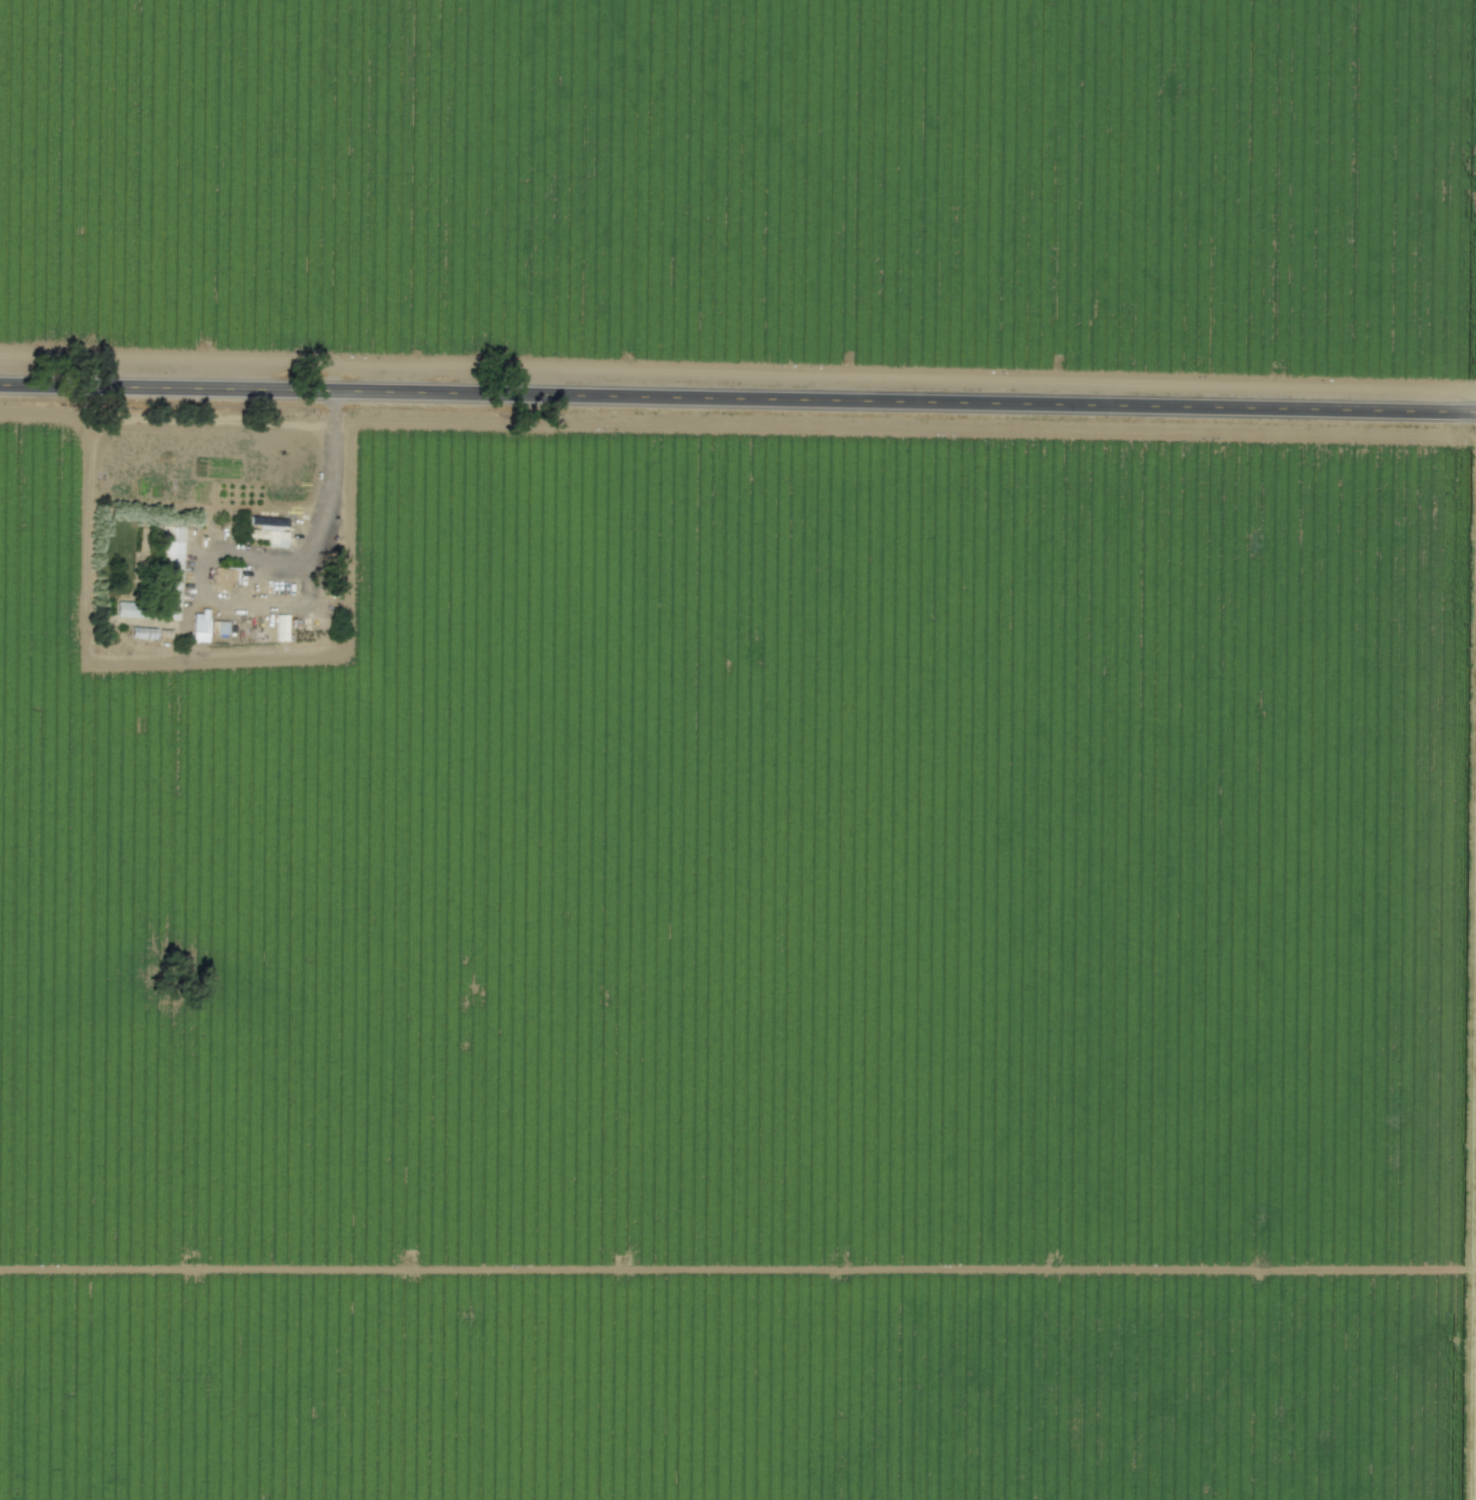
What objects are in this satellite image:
road: (738, 394)
road: (327, 480)
road: (250, 580)
road: (207, 596)

